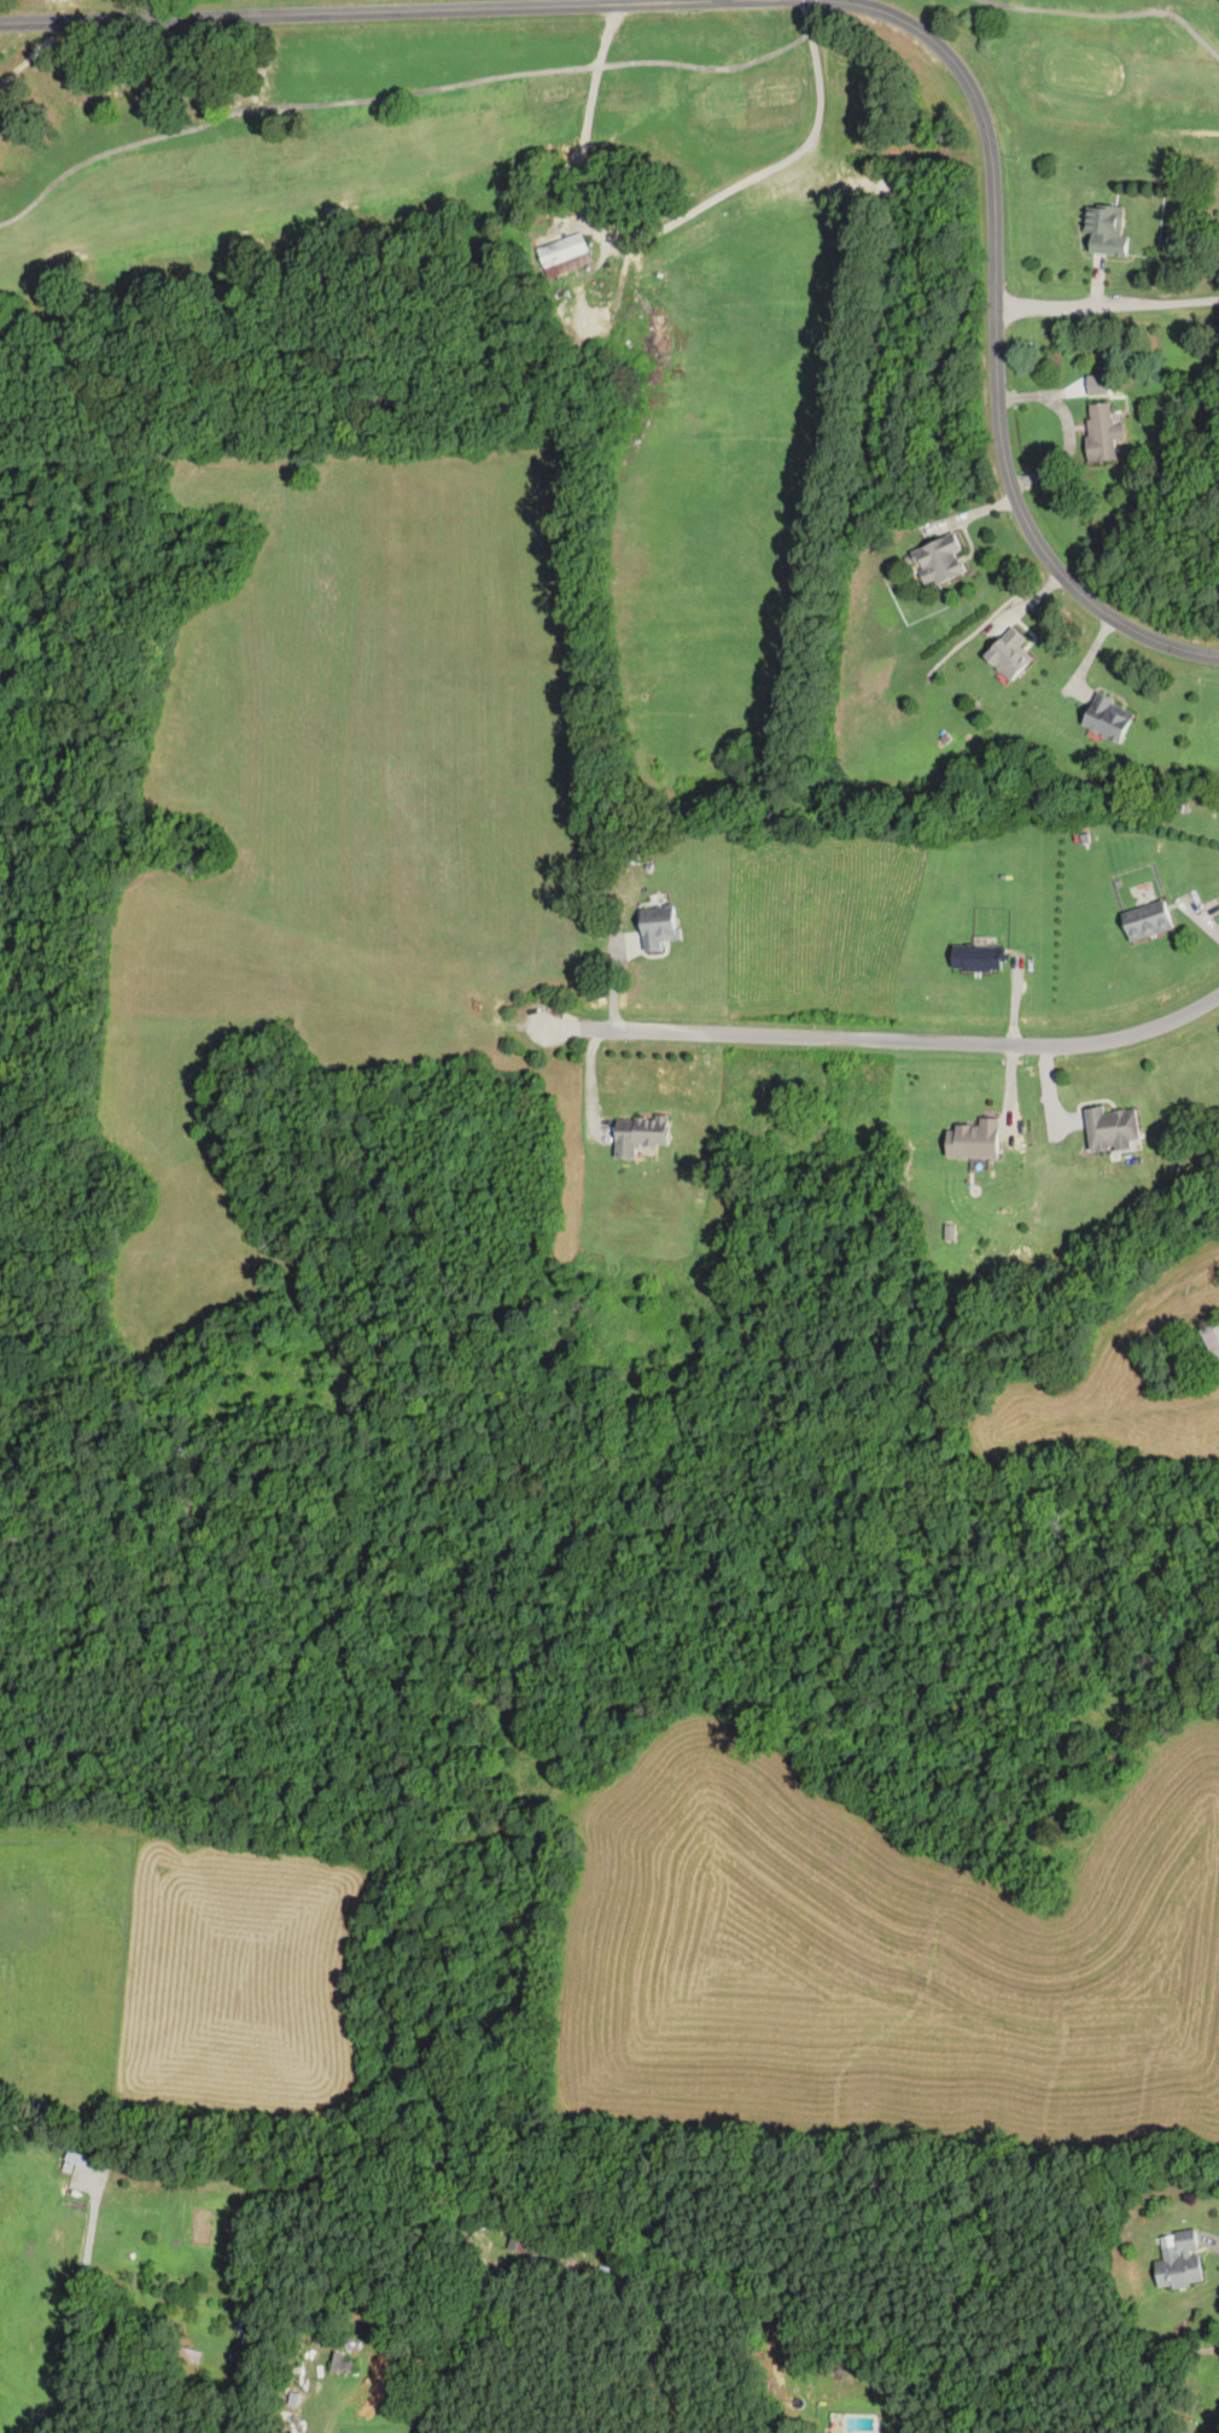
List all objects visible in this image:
road: (618, 1)
road: (348, 11)
building: (1104, 229)
building: (564, 253)
park: (606, 259)
road: (1107, 307)
road: (996, 345)
building: (1101, 432)
building: (935, 560)
building: (1008, 654)
building: (1106, 718)
building: (1145, 921)
building: (657, 926)
building: (976, 957)
road: (887, 1032)
building: (1108, 1128)
building: (637, 1133)
building: (972, 1139)
building: (1212, 1342)
building: (80, 2155)
building: (519, 2239)
road: (1213, 2240)
building: (1178, 2260)
building: (188, 2355)
building: (342, 2363)

